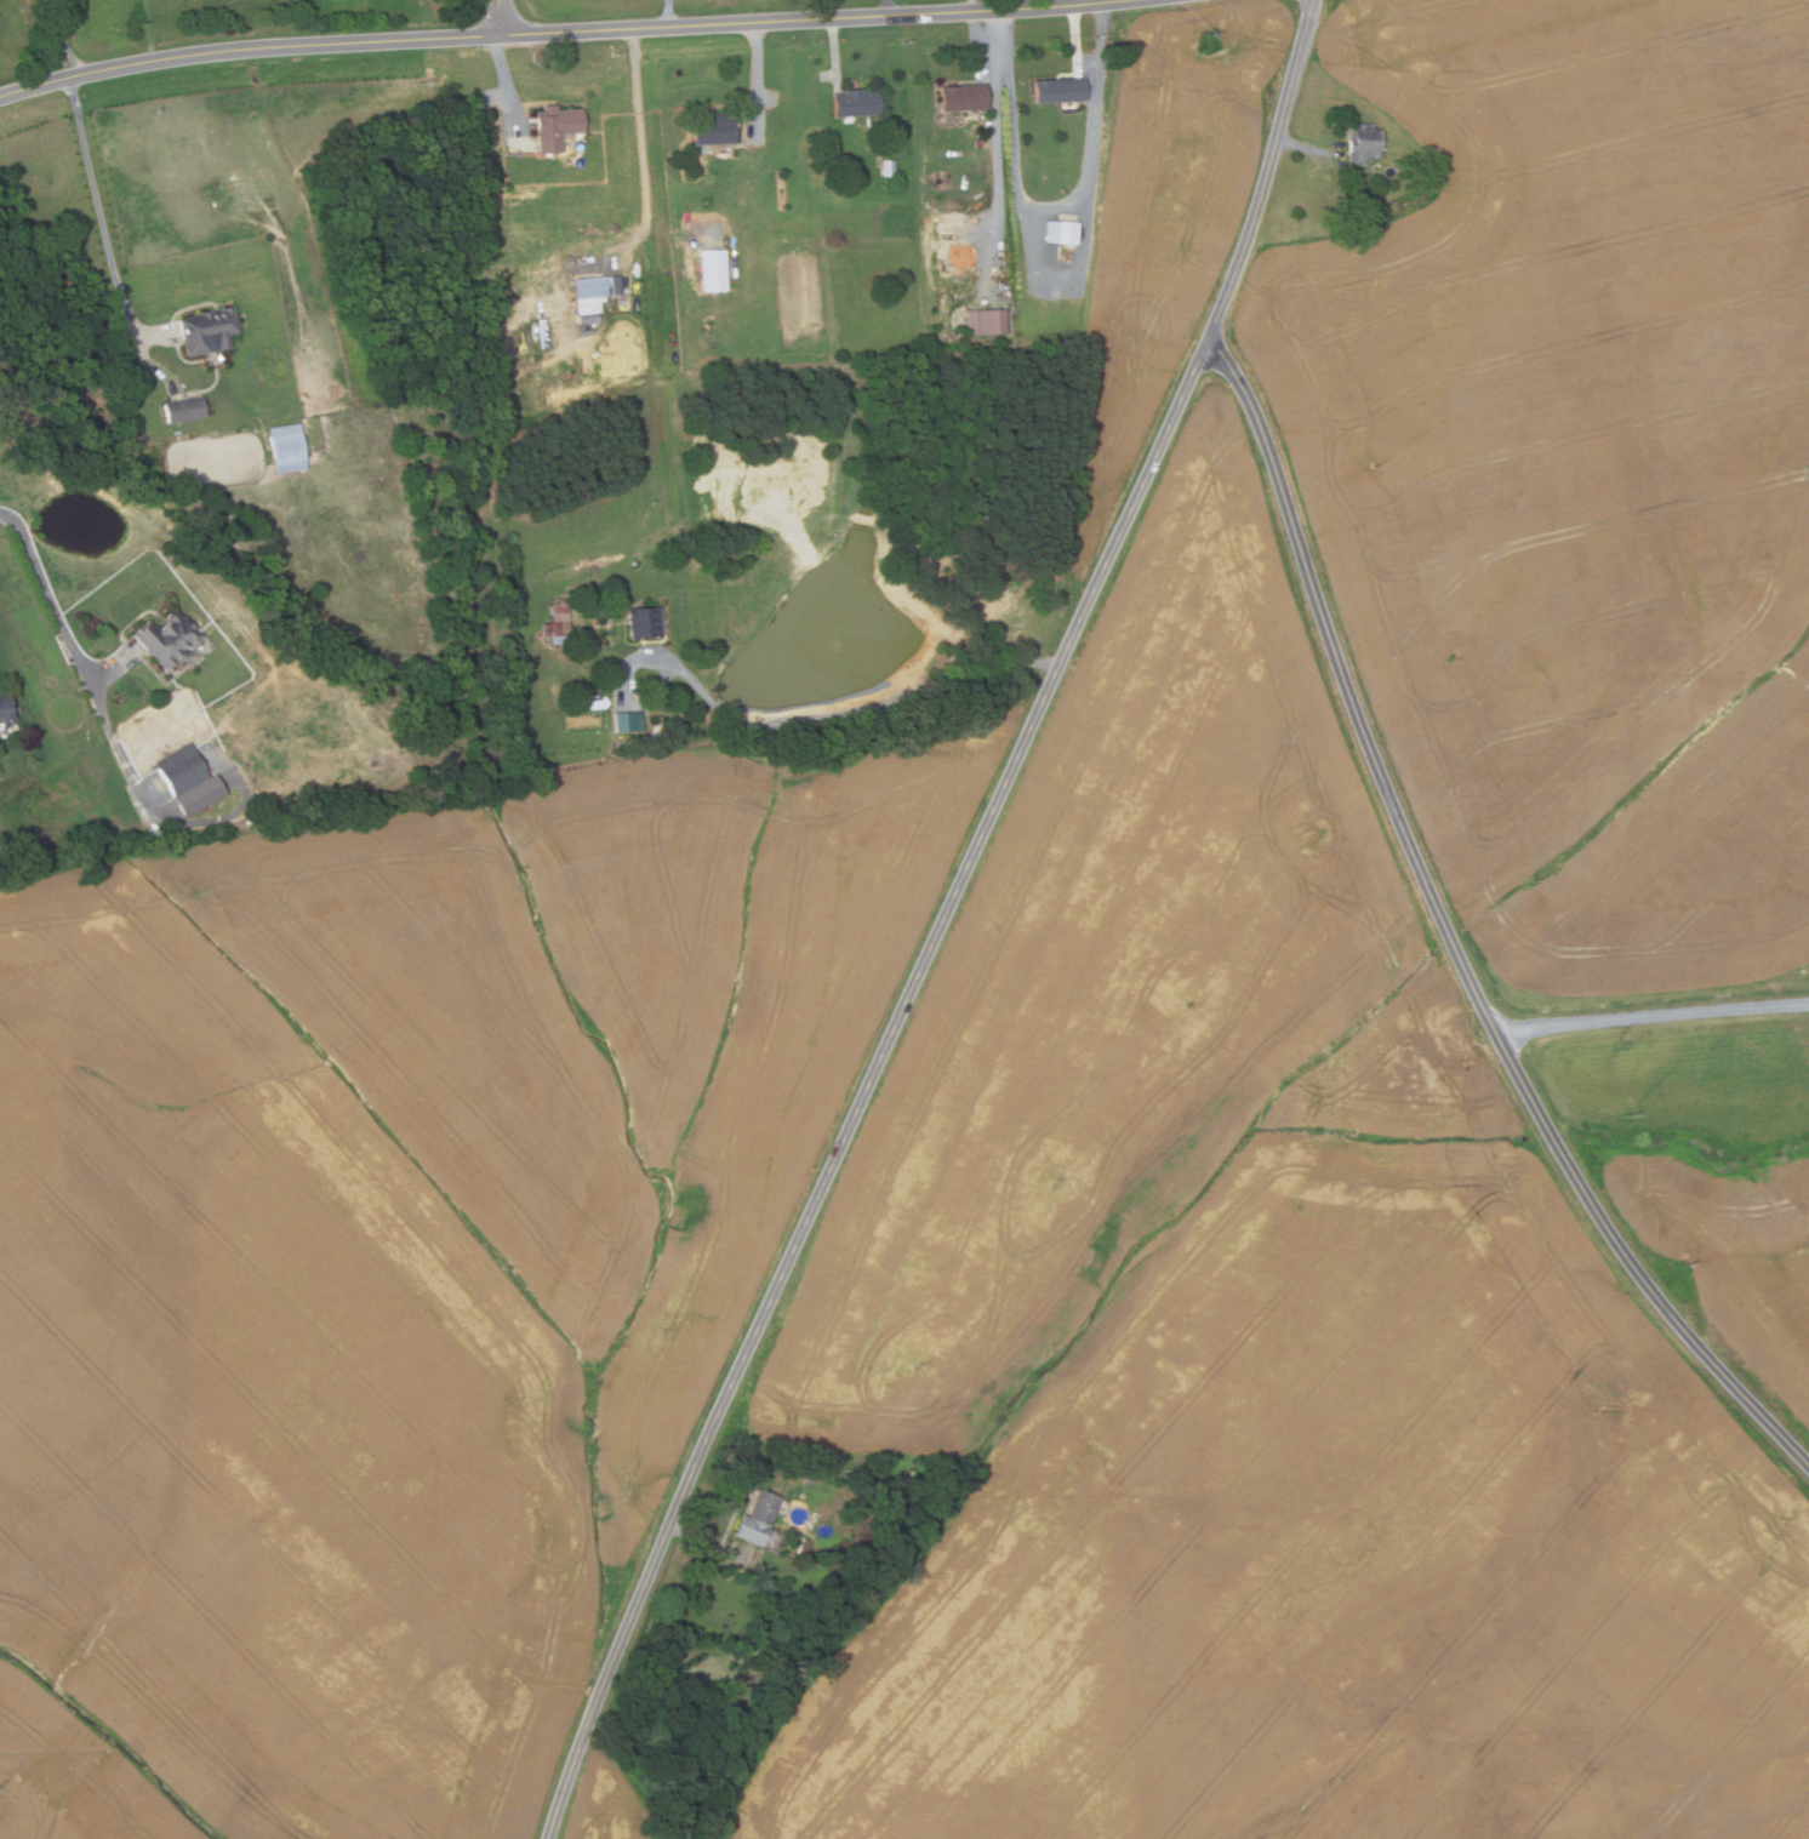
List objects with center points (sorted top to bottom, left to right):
road: (969, 5)
road: (888, 6)
road: (668, 12)
road: (497, 15)
road: (152, 29)
road: (548, 29)
road: (56, 41)
road: (834, 45)
road: (74, 52)
road: (758, 75)
road: (507, 76)
building: (1058, 90)
building: (961, 96)
building: (854, 102)
building: (554, 125)
building: (712, 128)
building: (1362, 142)
road: (1306, 145)
building: (889, 169)
road: (98, 202)
road: (1055, 206)
building: (1066, 232)
building: (712, 269)
building: (588, 286)
road: (1055, 293)
building: (589, 318)
building: (985, 320)
building: (207, 329)
building: (184, 409)
building: (287, 449)
crop: (1575, 473)
road: (47, 593)
building: (644, 619)
building: (558, 628)
building: (169, 638)
road: (850, 708)
building: (5, 709)
building: (627, 720)
building: (179, 770)
road: (942, 923)
road: (1450, 933)
road: (1653, 1013)
crop: (1710, 1181)
crop: (404, 1257)
crop: (1255, 1326)
building: (755, 1518)
road: (709, 1544)
building: (804, 1544)
crop: (610, 1799)

